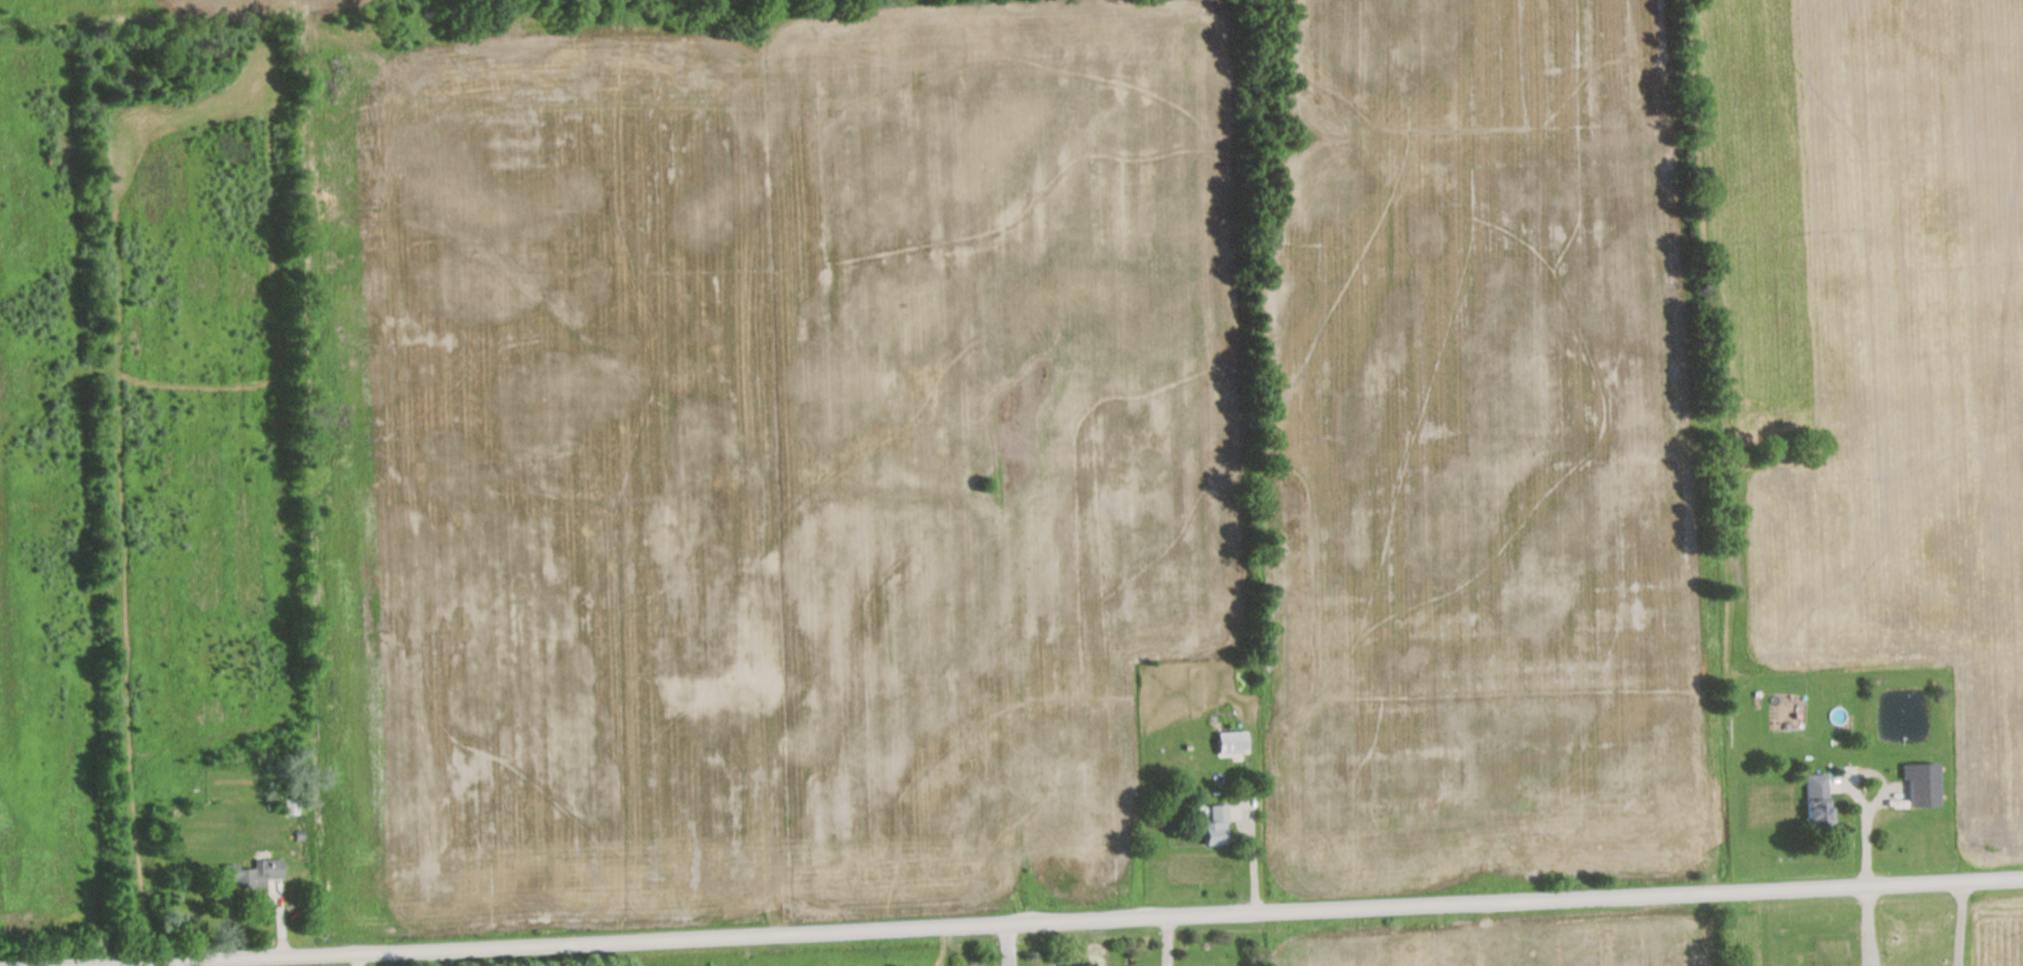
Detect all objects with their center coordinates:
building: (1227, 744)
building: (1918, 787)
building: (1813, 804)
road: (1871, 805)
building: (290, 807)
building: (1212, 828)
building: (256, 873)
road: (1086, 923)
road: (1933, 925)
road: (1165, 942)
road: (1007, 946)

